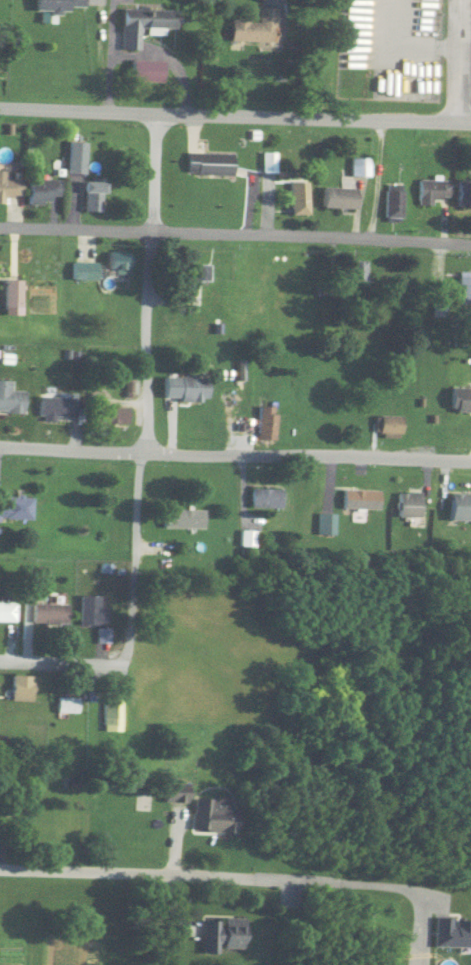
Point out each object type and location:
building: (59, 5)
building: (143, 24)
building: (255, 27)
road: (107, 55)
road: (167, 60)
road: (456, 63)
building: (146, 71)
road: (235, 117)
building: (75, 158)
building: (209, 164)
building: (359, 167)
building: (9, 187)
building: (43, 191)
building: (431, 191)
building: (464, 193)
building: (92, 196)
building: (299, 198)
building: (340, 198)
building: (392, 202)
road: (235, 234)
building: (119, 261)
building: (85, 270)
building: (357, 272)
building: (199, 273)
building: (464, 288)
building: (12, 293)
road: (144, 391)
building: (185, 392)
building: (10, 399)
building: (459, 402)
building: (54, 408)
building: (109, 415)
building: (263, 423)
building: (386, 429)
road: (235, 455)
building: (265, 501)
building: (358, 503)
building: (15, 508)
building: (406, 508)
building: (459, 511)
building: (183, 524)
building: (326, 526)
building: (36, 574)
building: (6, 611)
building: (90, 611)
building: (48, 614)
road: (58, 663)
building: (21, 687)
building: (66, 705)
building: (110, 712)
building: (212, 815)
road: (123, 874)
road: (367, 886)
building: (222, 934)

